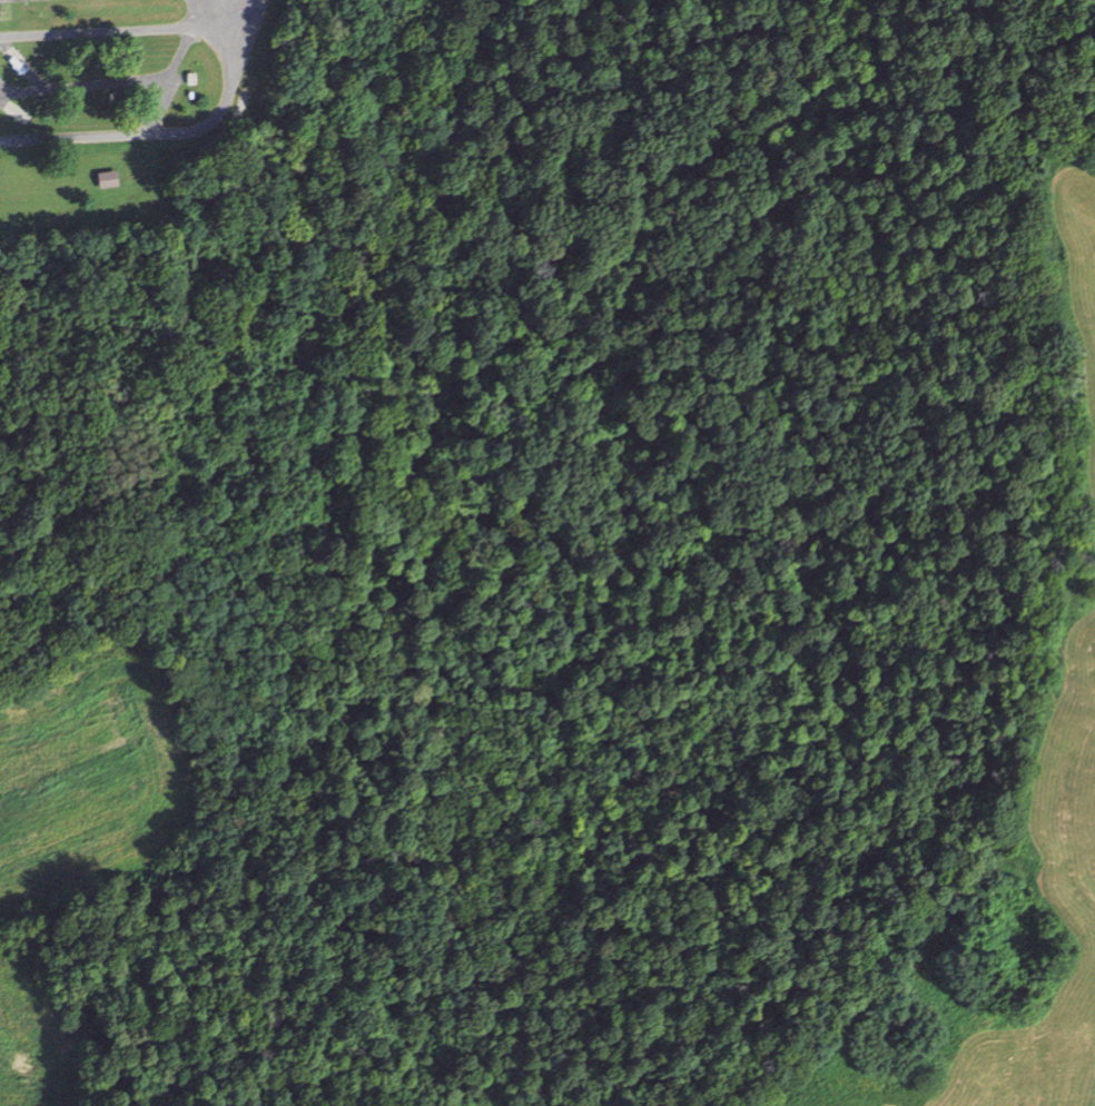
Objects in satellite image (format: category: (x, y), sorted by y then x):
road: (216, 11)
road: (245, 14)
road: (112, 31)
road: (167, 81)
road: (85, 87)
park: (501, 100)
road: (158, 132)
road: (967, 912)

